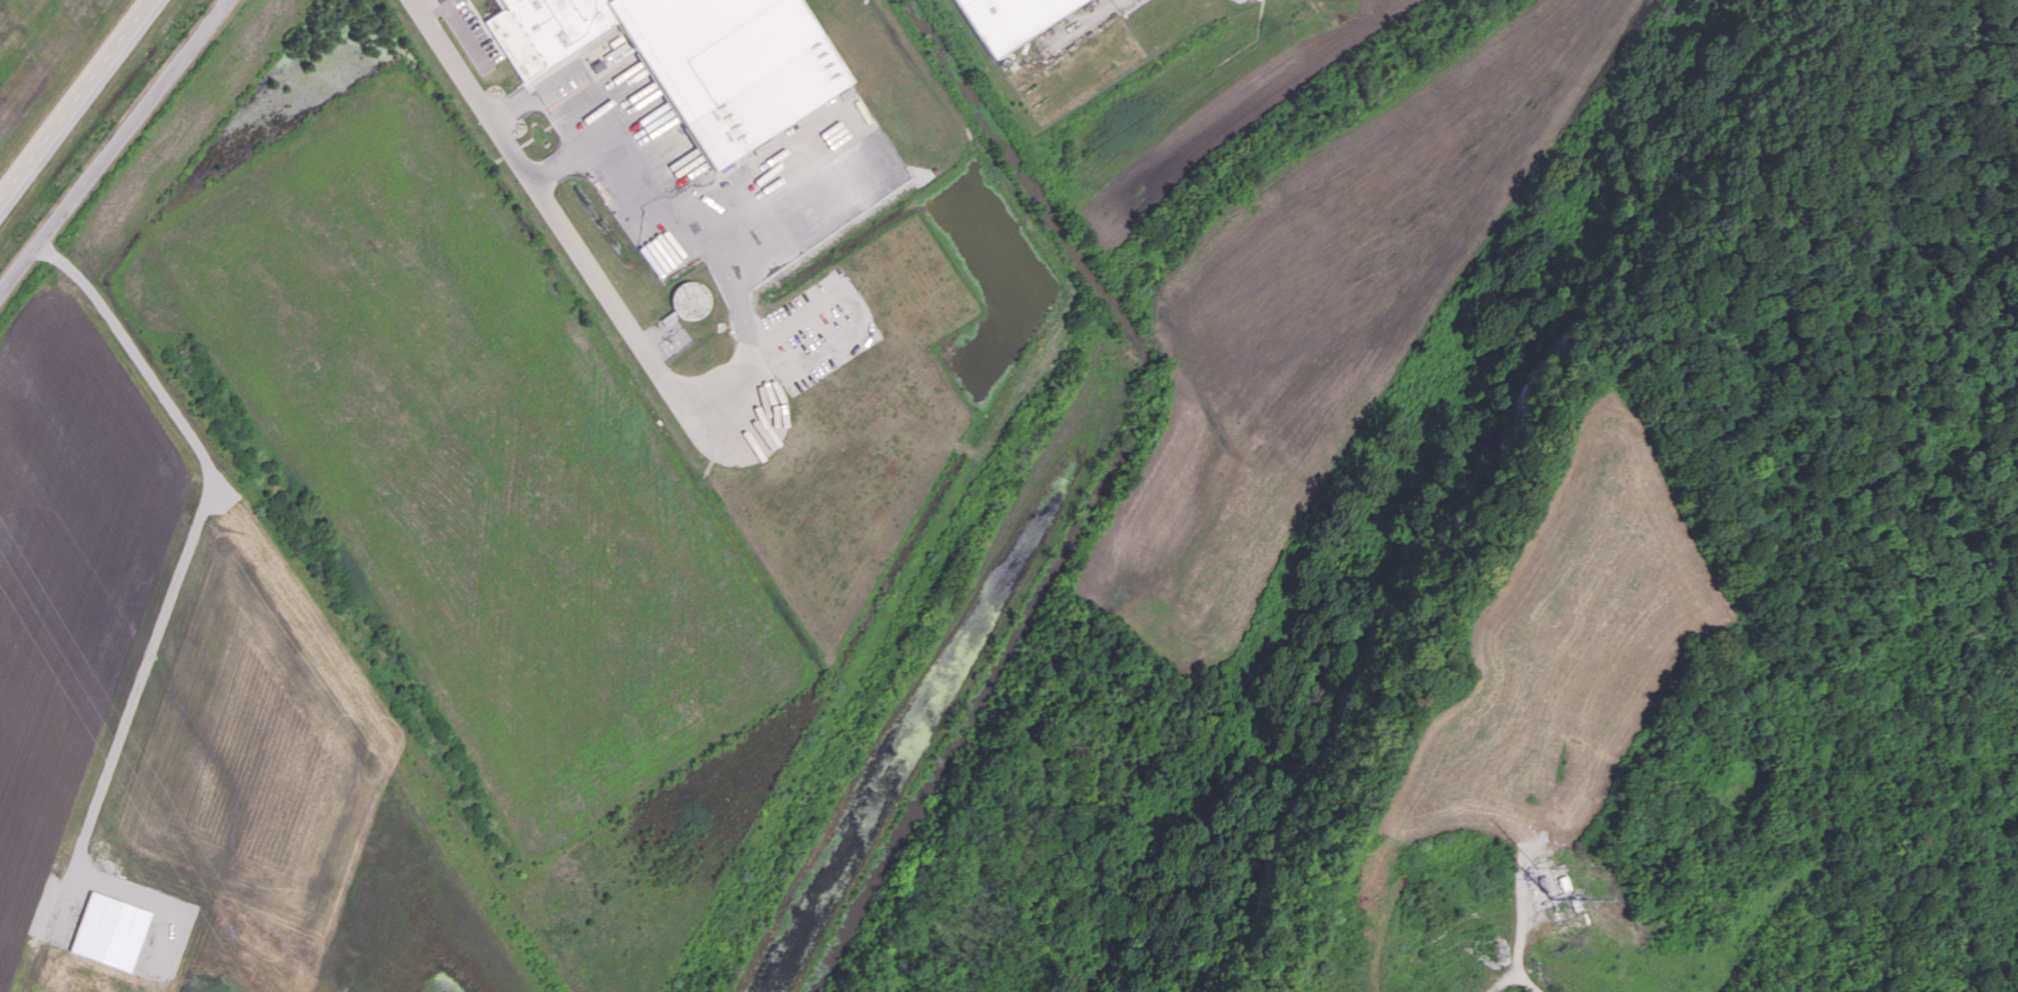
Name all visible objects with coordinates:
road: (422, 4)
building: (1011, 18)
building: (675, 39)
road: (73, 102)
road: (116, 144)
road: (568, 156)
road: (653, 201)
road: (559, 223)
building: (690, 300)
road: (757, 344)
road: (200, 548)
building: (110, 931)

